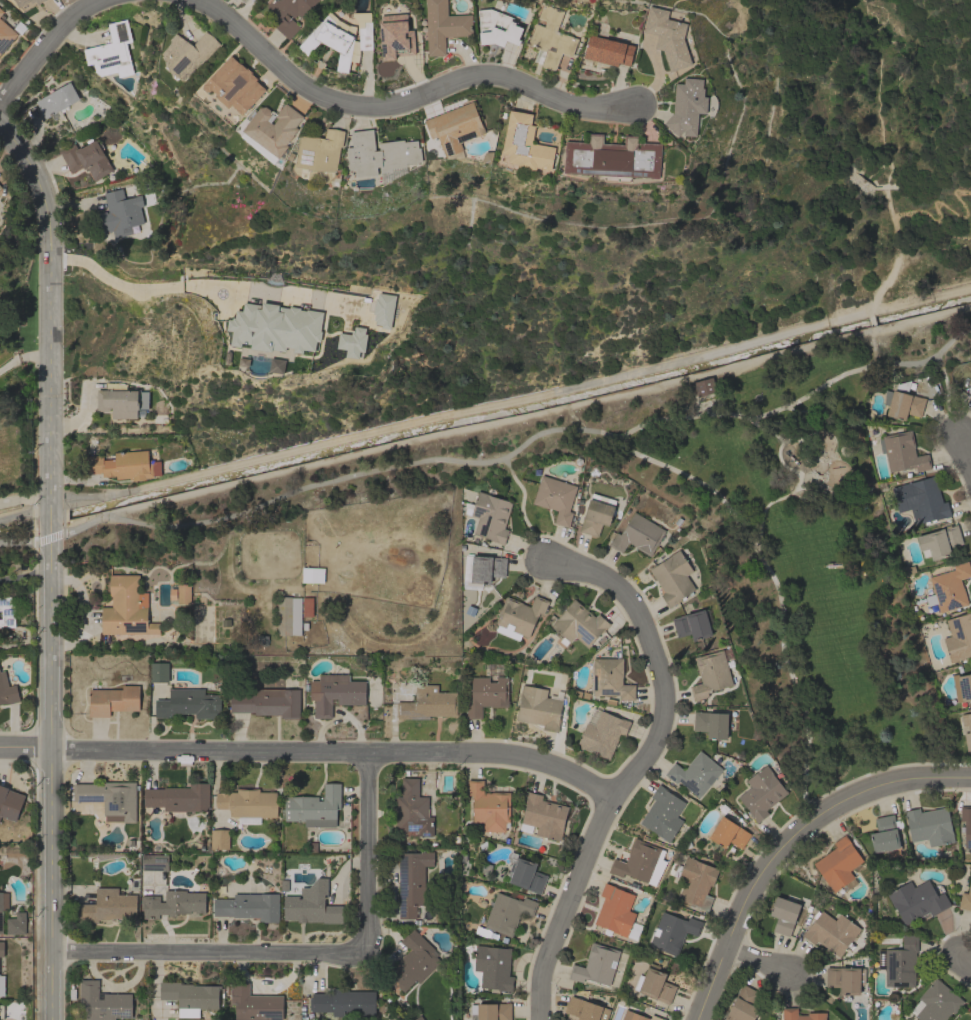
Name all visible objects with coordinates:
building: (27, 1)
building: (255, 1)
building: (1, 12)
building: (284, 21)
building: (443, 26)
building: (497, 28)
building: (6, 35)
building: (340, 37)
building: (668, 37)
building: (550, 38)
road: (49, 48)
building: (608, 50)
building: (111, 52)
building: (188, 54)
building: (235, 85)
building: (57, 100)
road: (400, 103)
building: (687, 106)
building: (455, 128)
building: (271, 130)
building: (525, 143)
building: (320, 151)
building: (381, 155)
building: (613, 157)
building: (87, 158)
building: (0, 186)
road: (946, 207)
building: (121, 213)
road: (896, 243)
road: (147, 284)
building: (382, 309)
road: (51, 311)
building: (274, 327)
building: (351, 342)
road: (24, 360)
building: (704, 386)
building: (969, 392)
building: (121, 402)
building: (903, 402)
road: (523, 442)
building: (902, 452)
road: (964, 454)
building: (124, 465)
building: (555, 497)
road: (23, 498)
building: (921, 499)
road: (520, 507)
building: (489, 516)
road: (49, 517)
building: (595, 517)
building: (638, 534)
road: (47, 536)
road: (17, 542)
building: (939, 542)
park: (792, 564)
building: (482, 569)
building: (672, 577)
building: (949, 588)
building: (183, 594)
building: (126, 608)
building: (7, 612)
building: (291, 614)
building: (519, 616)
building: (579, 624)
building: (692, 625)
building: (958, 637)
building: (157, 671)
building: (710, 674)
building: (611, 678)
building: (962, 687)
building: (7, 691)
building: (487, 691)
building: (335, 693)
building: (112, 699)
building: (268, 702)
building: (189, 703)
building: (427, 703)
building: (539, 707)
building: (711, 724)
building: (966, 728)
building: (602, 733)
road: (309, 754)
road: (636, 764)
road: (50, 773)
building: (695, 773)
building: (761, 793)
building: (179, 797)
building: (109, 798)
building: (10, 802)
building: (247, 804)
building: (489, 806)
building: (314, 807)
building: (413, 809)
building: (663, 814)
building: (544, 816)
building: (966, 824)
building: (929, 826)
building: (728, 833)
building: (885, 836)
building: (220, 839)
road: (790, 843)
road: (367, 852)
building: (155, 861)
building: (638, 861)
building: (838, 863)
building: (524, 874)
building: (412, 881)
building: (695, 881)
building: (965, 899)
building: (916, 900)
building: (173, 903)
building: (248, 906)
building: (3, 907)
building: (107, 907)
building: (310, 907)
building: (507, 912)
building: (617, 912)
building: (783, 915)
building: (16, 924)
building: (830, 931)
building: (672, 932)
building: (1, 949)
road: (207, 952)
road: (759, 961)
road: (965, 961)
building: (412, 962)
building: (899, 962)
building: (596, 965)
building: (493, 967)
building: (845, 979)
building: (655, 984)
building: (2, 985)
building: (189, 997)
building: (103, 1002)
building: (344, 1002)
building: (937, 1002)
building: (254, 1004)
building: (743, 1004)
building: (586, 1010)
building: (1, 1011)
building: (490, 1011)
building: (801, 1015)
building: (637, 1016)

